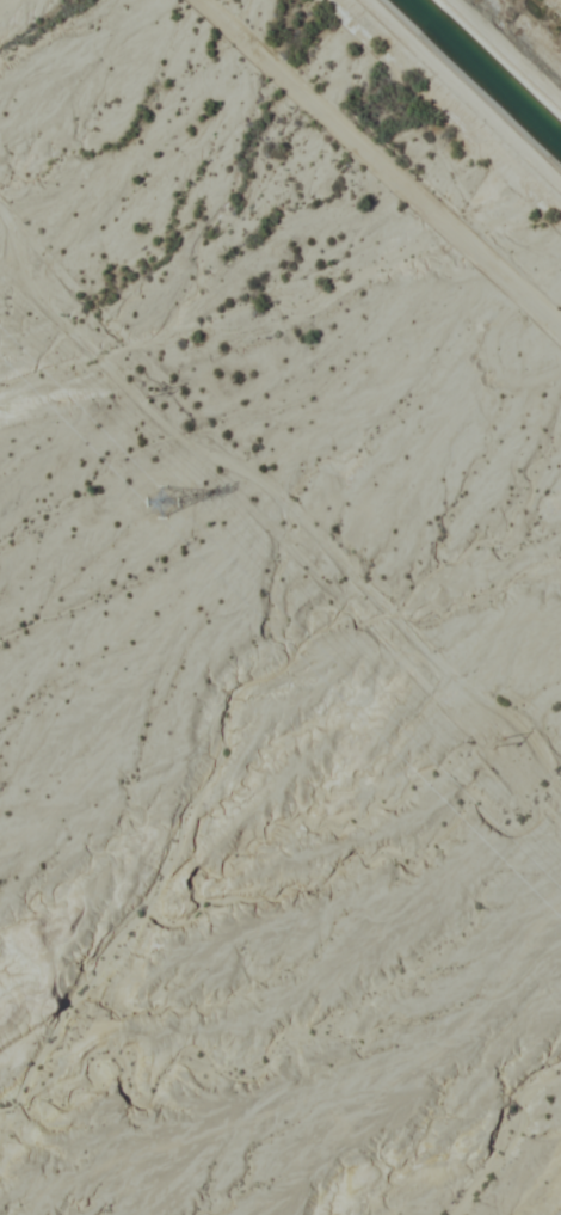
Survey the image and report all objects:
road: (392, 159)
power tower: (156, 394)
power tower: (168, 509)
power tower: (516, 753)

